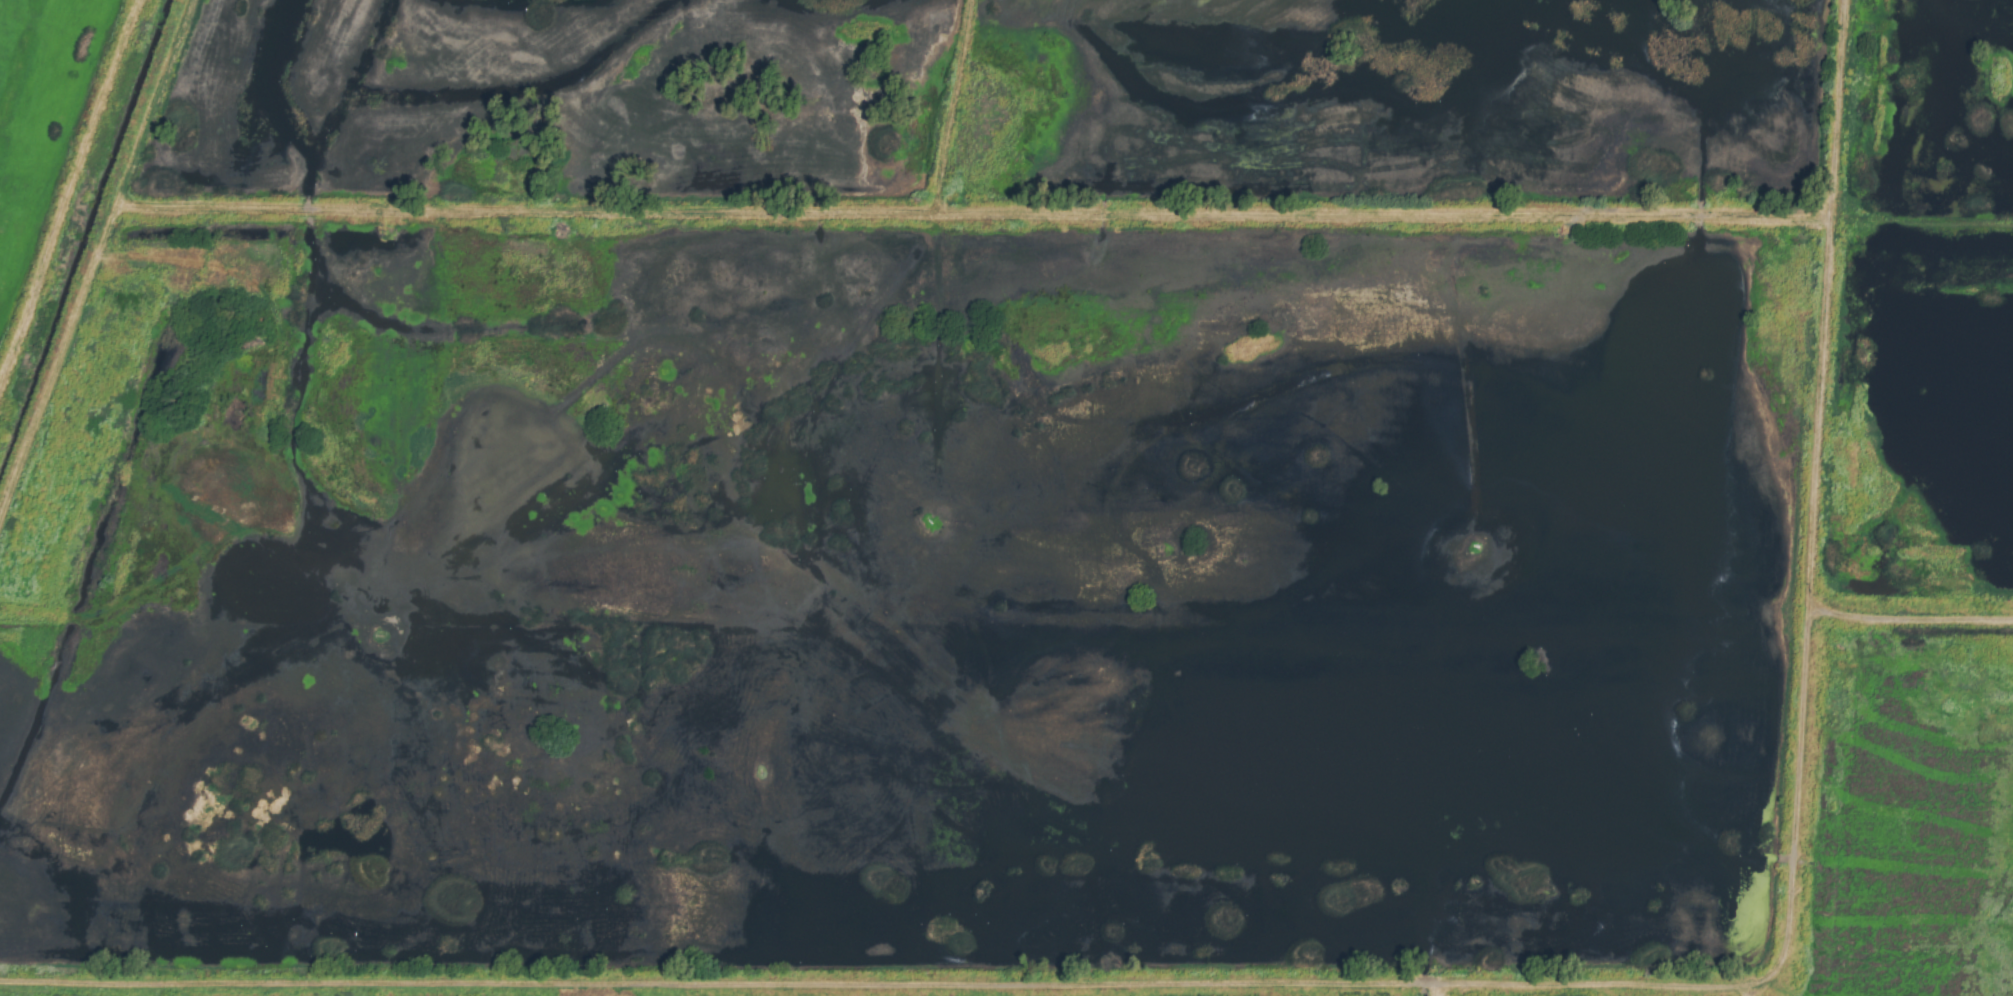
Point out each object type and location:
crop: (1908, 794)

